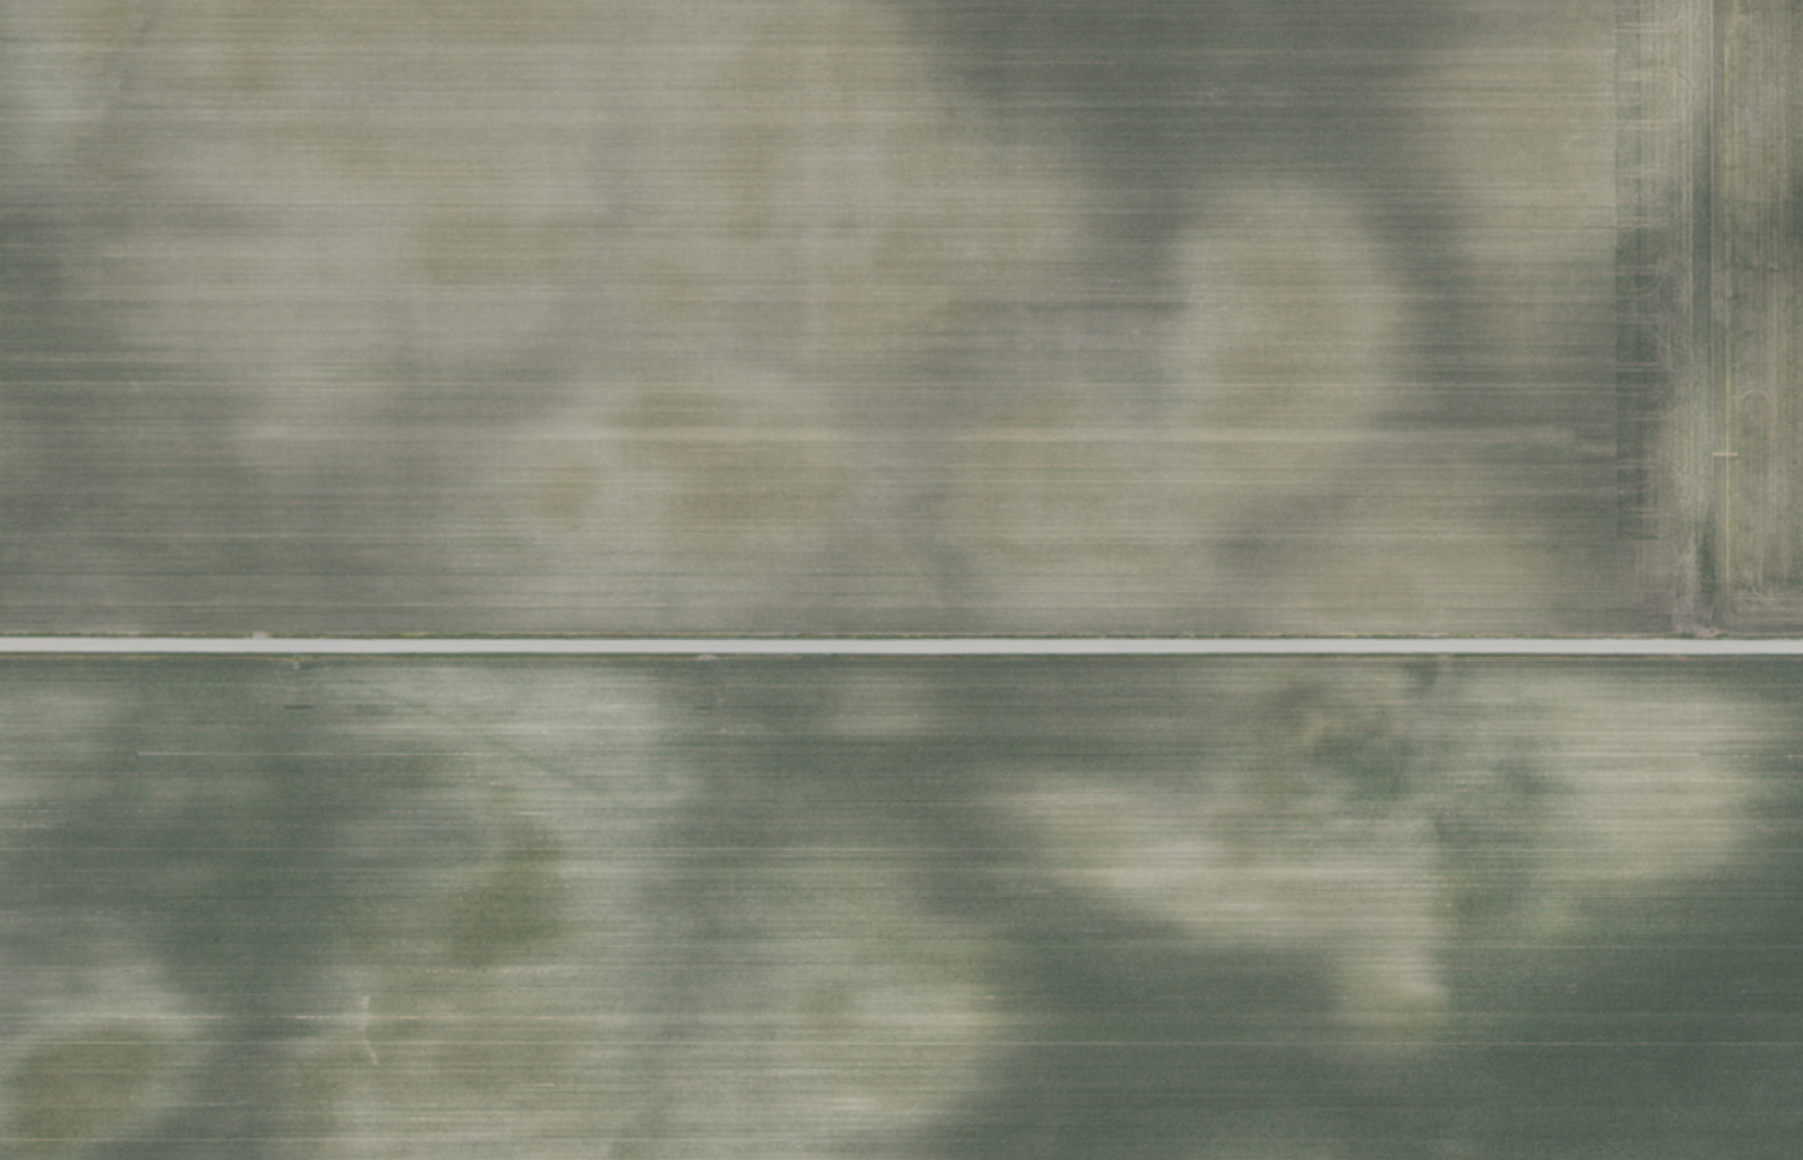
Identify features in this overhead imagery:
road: (901, 632)

